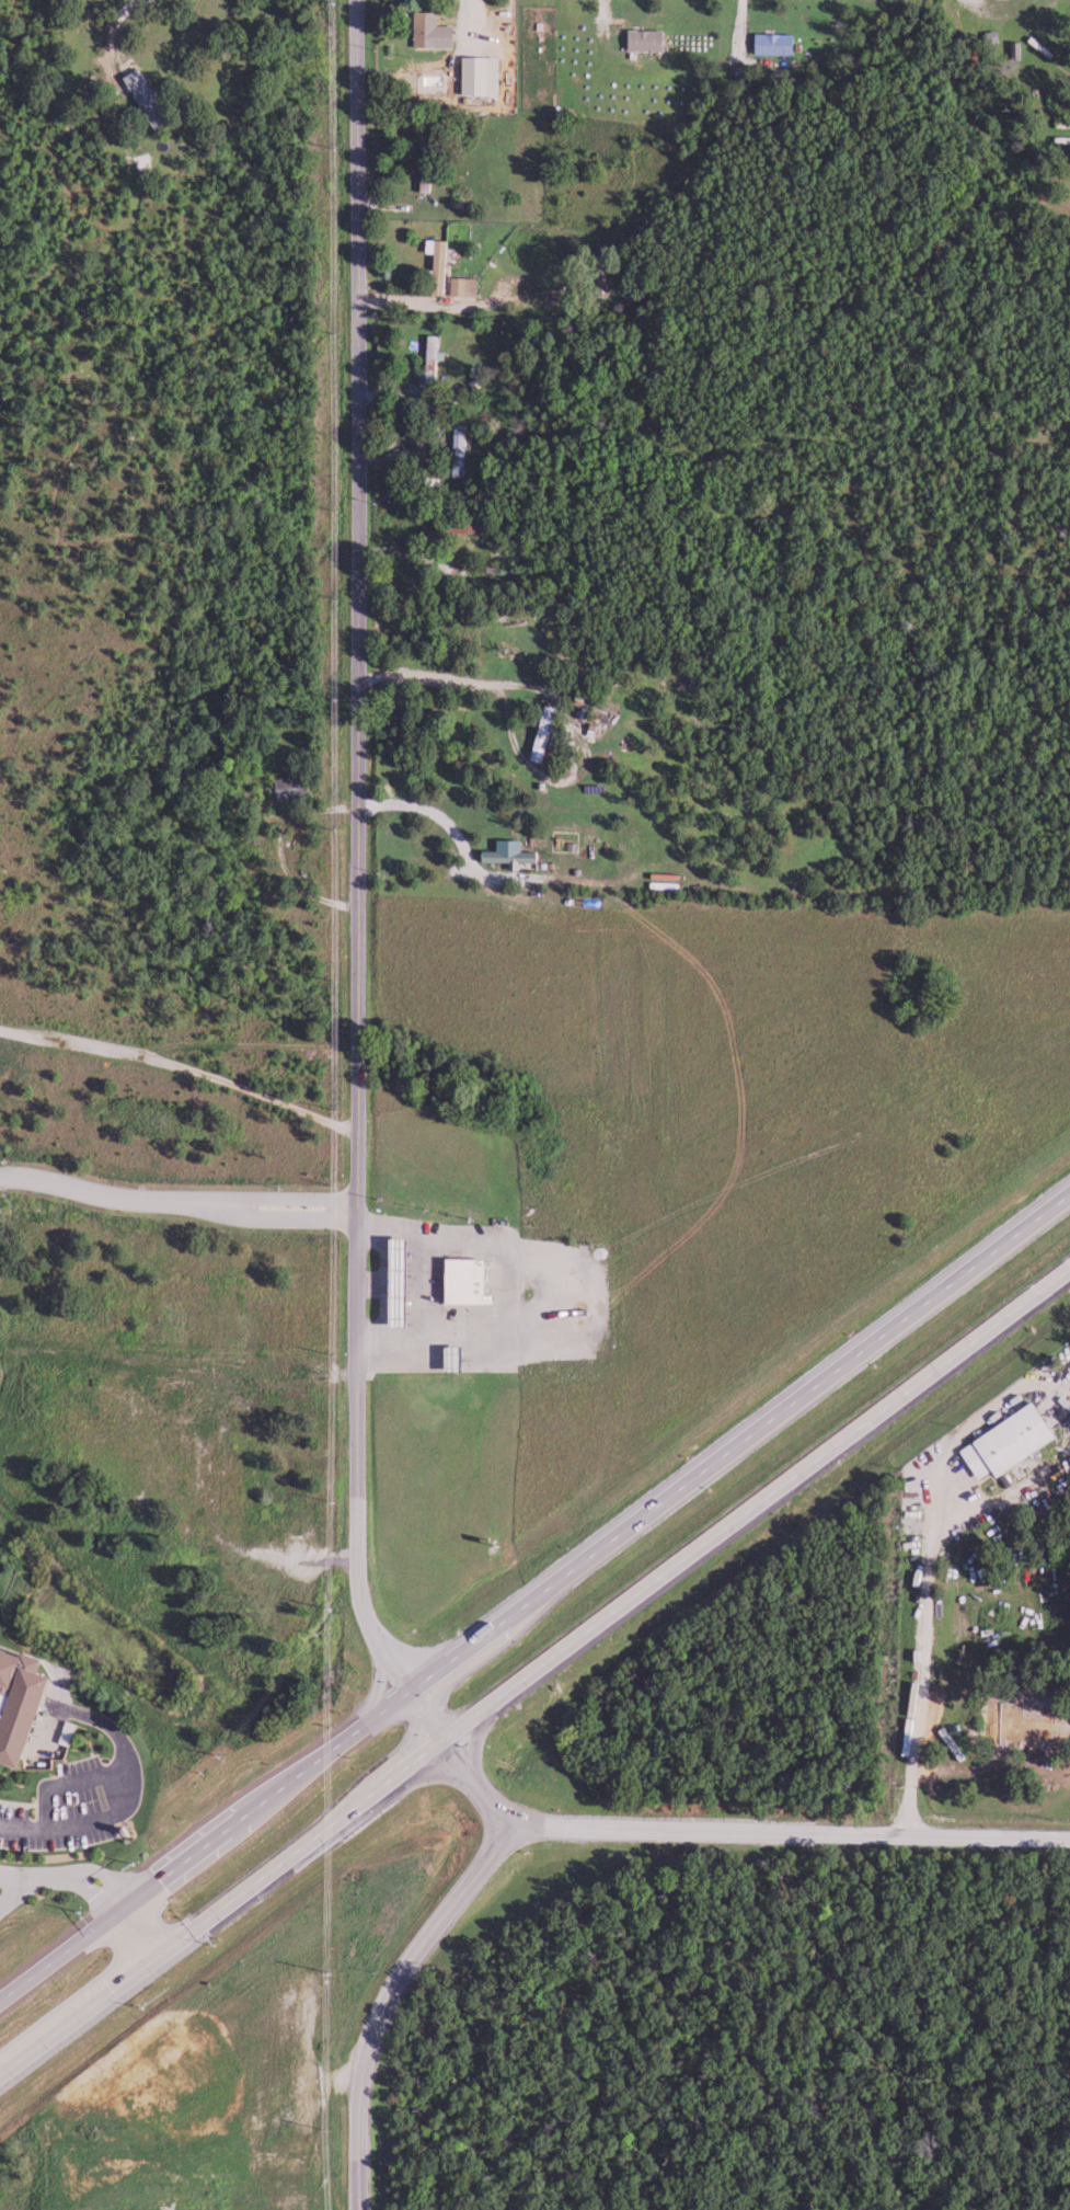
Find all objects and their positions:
road: (998, 11)
road: (614, 20)
road: (123, 22)
road: (476, 24)
building: (435, 32)
road: (749, 33)
building: (1004, 36)
building: (653, 39)
building: (781, 44)
building: (1051, 44)
building: (1023, 50)
building: (475, 73)
building: (151, 100)
building: (422, 165)
building: (434, 264)
building: (459, 285)
building: (429, 357)
building: (456, 449)
road: (463, 688)
building: (538, 732)
road: (364, 815)
building: (506, 852)
road: (182, 1064)
road: (176, 1200)
road: (965, 1269)
building: (470, 1279)
road: (909, 1389)
building: (1002, 1441)
road: (312, 1495)
road: (609, 1533)
road: (553, 1658)
road: (914, 1667)
building: (24, 1704)
road: (429, 1743)
road: (67, 1783)
road: (126, 1797)
road: (783, 1836)
road: (181, 1865)
road: (92, 1886)
road: (11, 1887)
road: (180, 1942)
road: (411, 1955)
road: (359, 2145)

